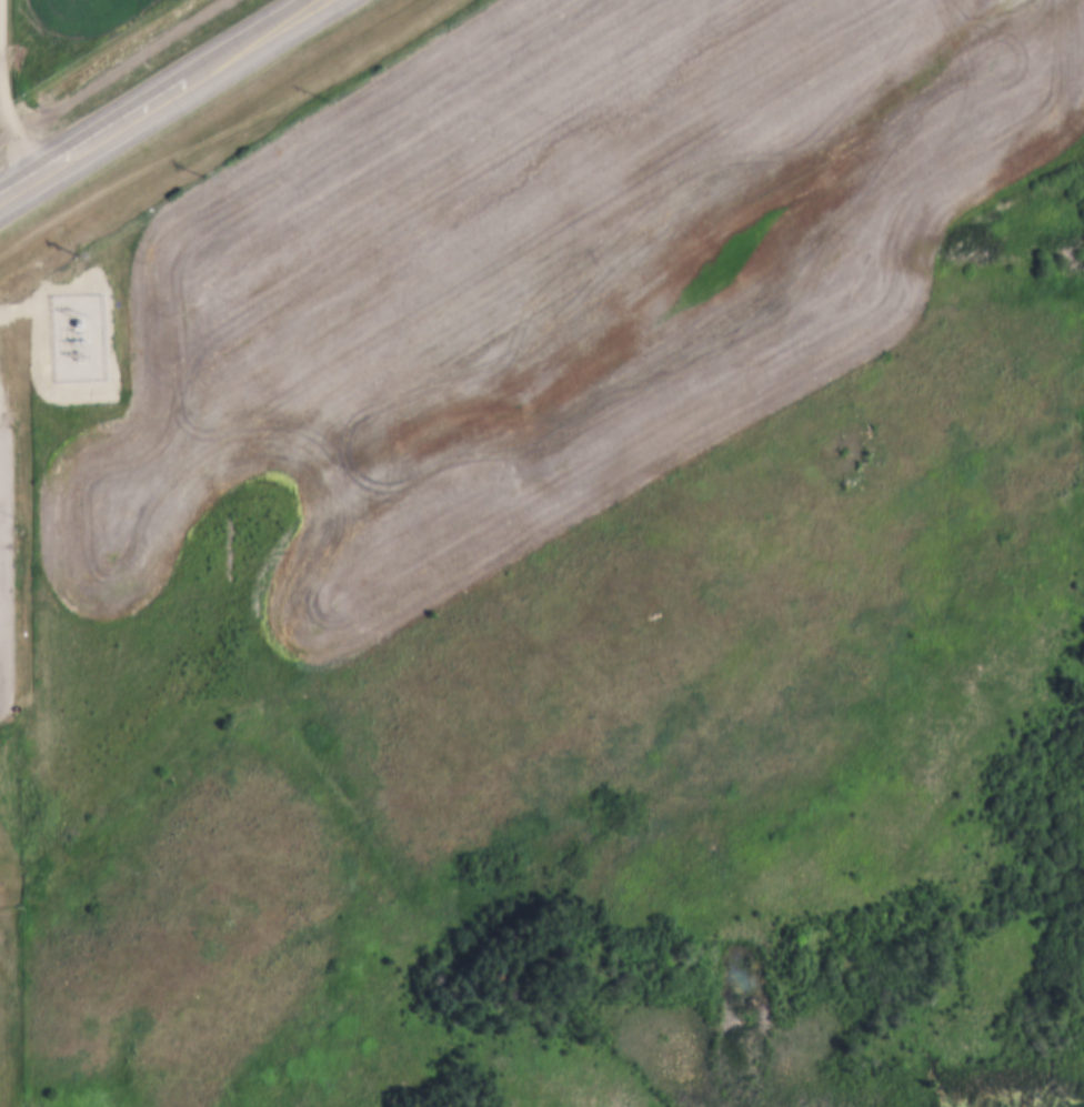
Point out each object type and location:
road: (252, 40)
road: (6, 88)
road: (93, 138)
power substation: (78, 331)

